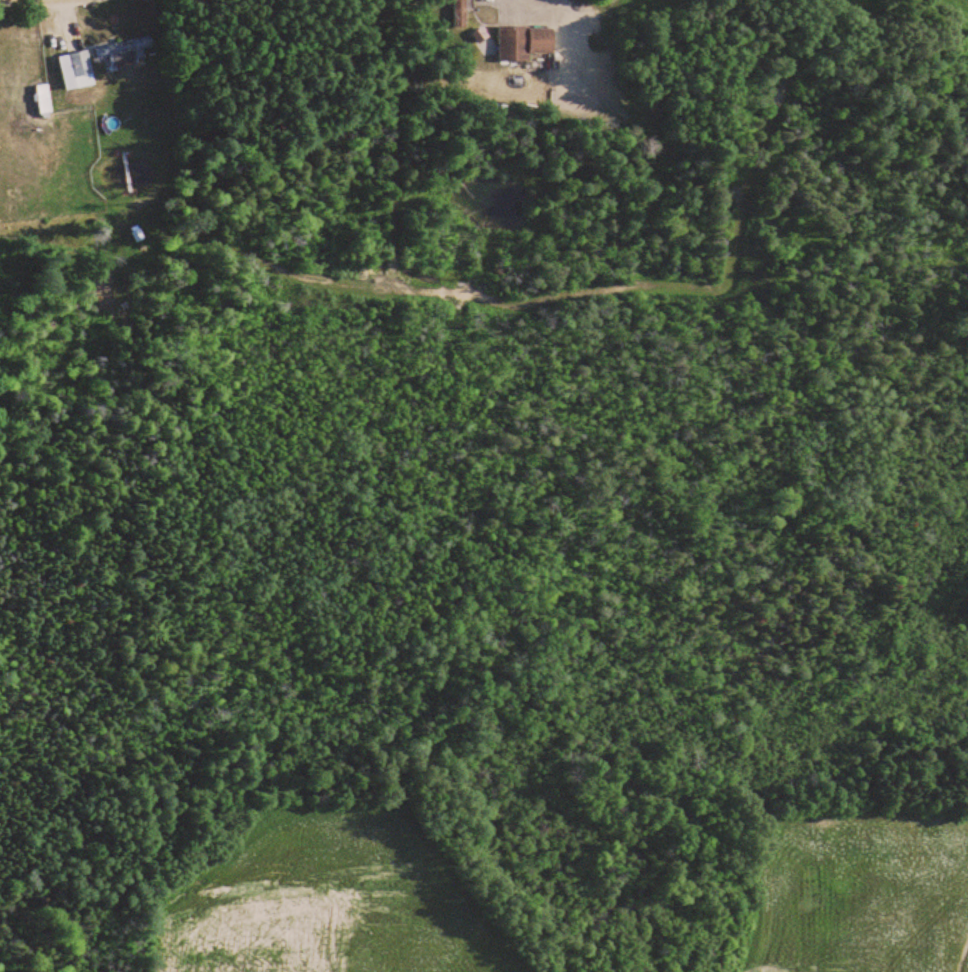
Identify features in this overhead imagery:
road: (527, 1)
building: (460, 13)
building: (525, 41)
building: (126, 50)
building: (82, 68)
building: (44, 98)

